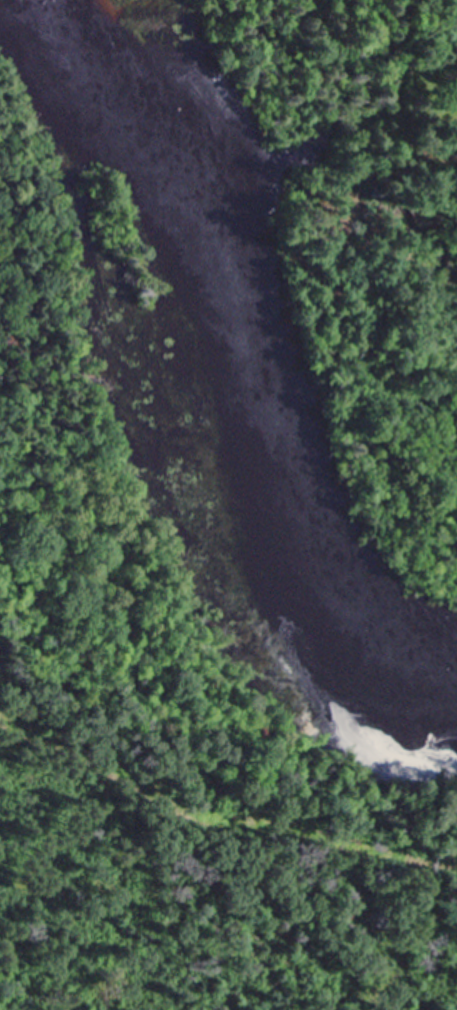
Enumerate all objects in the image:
river: (244, 378)

